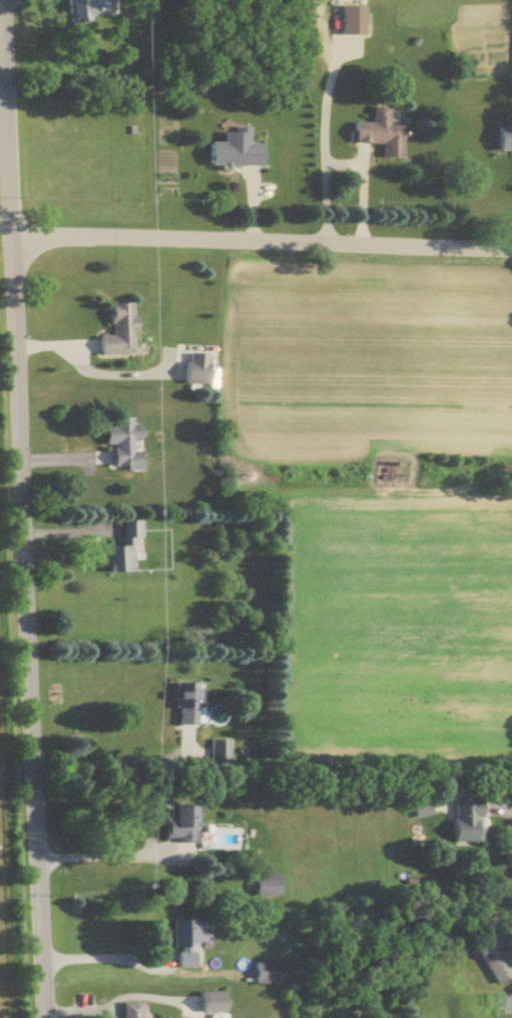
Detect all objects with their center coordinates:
building: (89, 8)
building: (350, 20)
crop: (3, 101)
building: (376, 134)
building: (502, 139)
building: (233, 150)
road: (325, 152)
road: (361, 189)
road: (6, 238)
road: (261, 245)
building: (114, 331)
road: (77, 359)
building: (193, 373)
building: (120, 444)
road: (21, 509)
building: (122, 549)
building: (182, 704)
building: (217, 755)
road: (113, 761)
building: (418, 807)
road: (508, 812)
building: (462, 822)
building: (178, 824)
road: (108, 855)
building: (263, 887)
building: (185, 944)
building: (490, 956)
road: (101, 958)
building: (265, 974)
building: (208, 1002)
building: (127, 1010)

